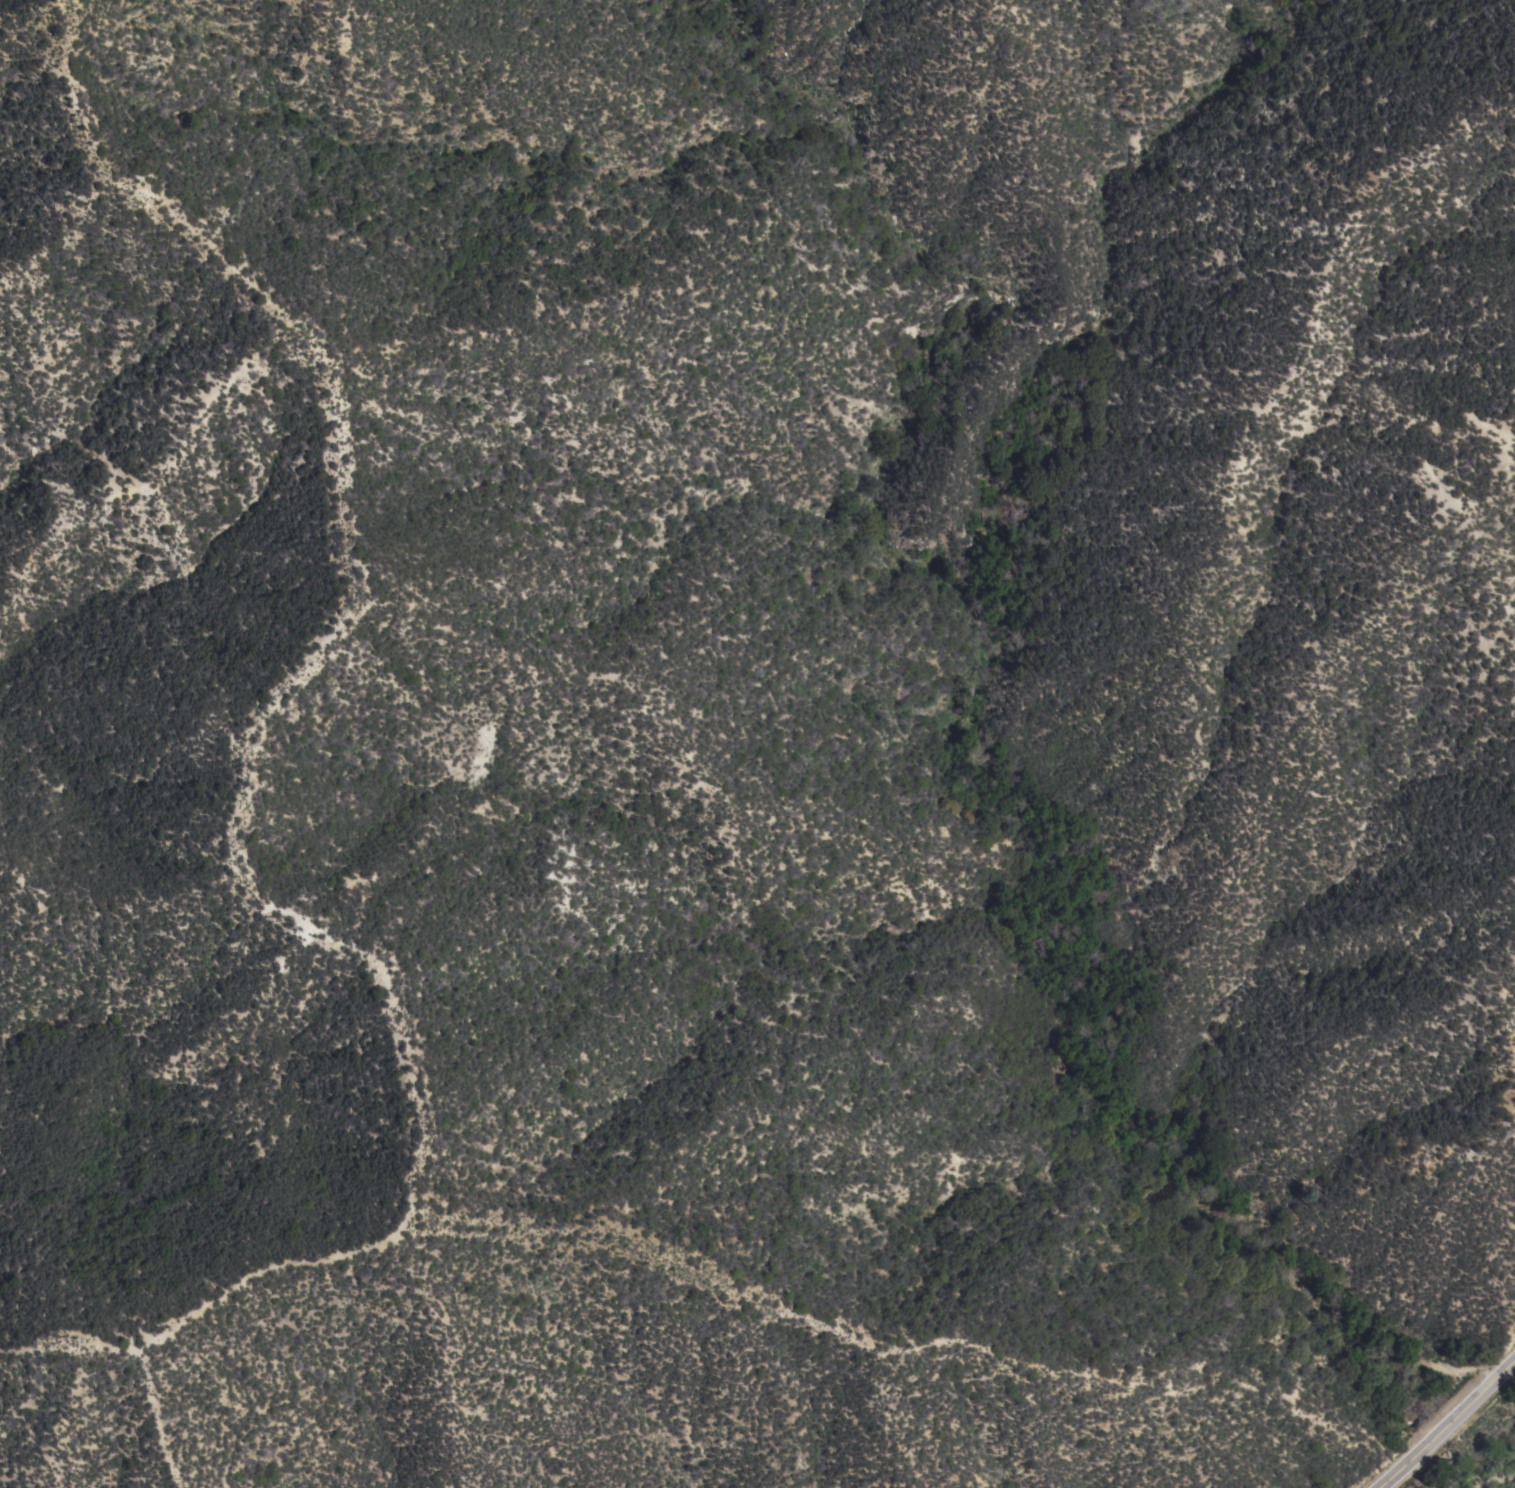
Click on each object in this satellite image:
road: (1441, 1422)

